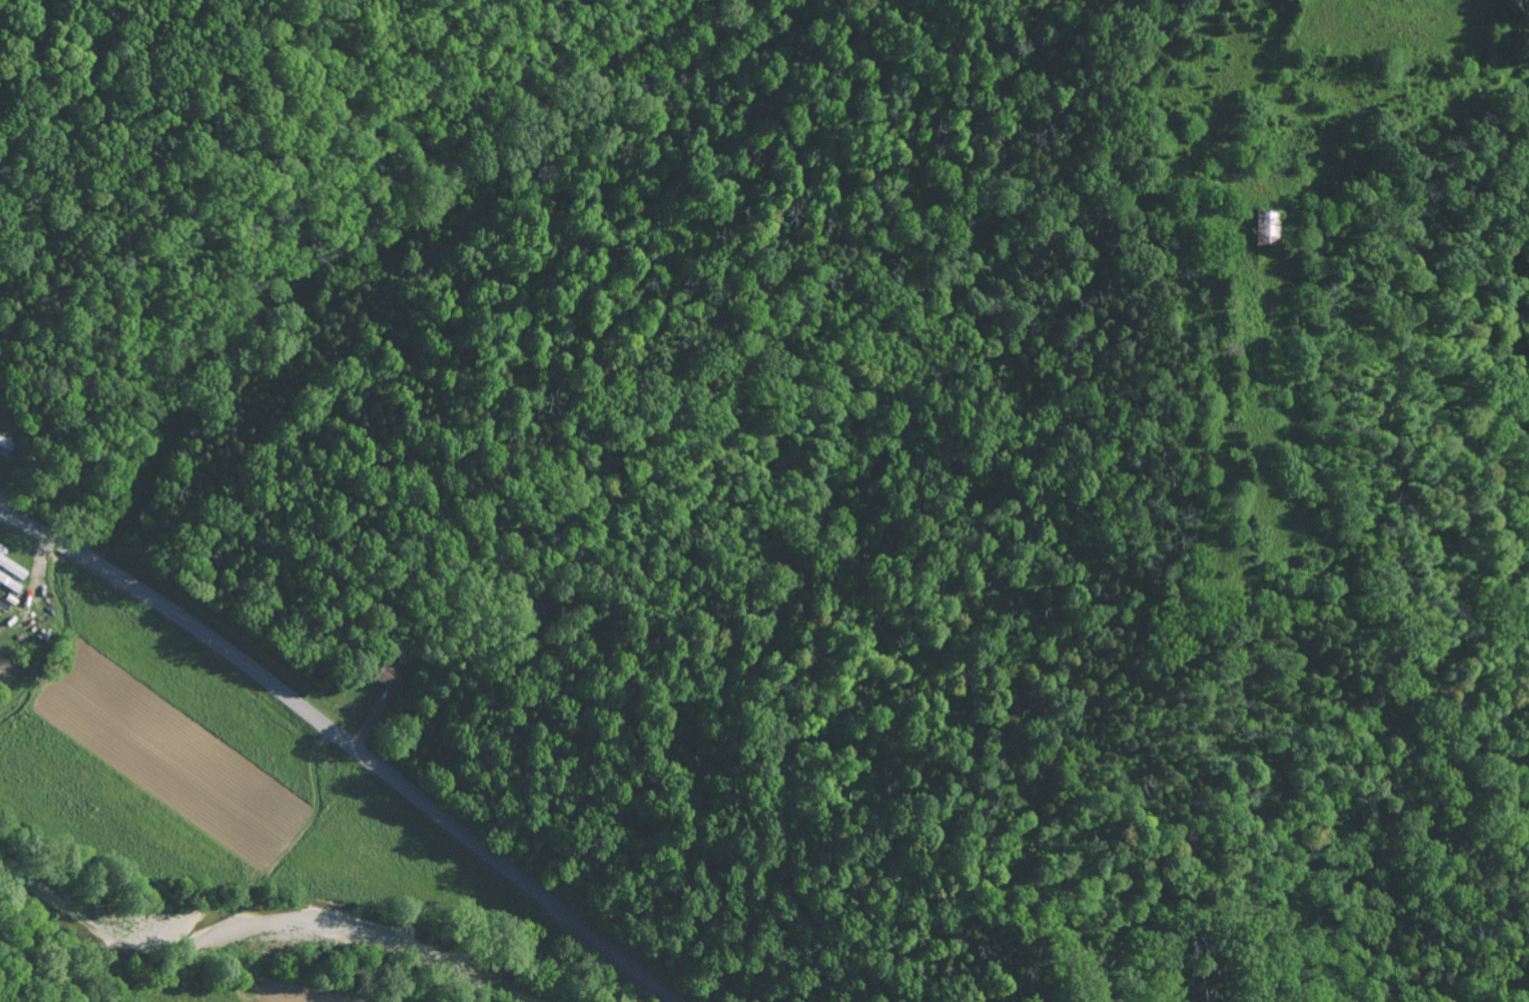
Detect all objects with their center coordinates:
building: (387, 677)
road: (346, 744)

